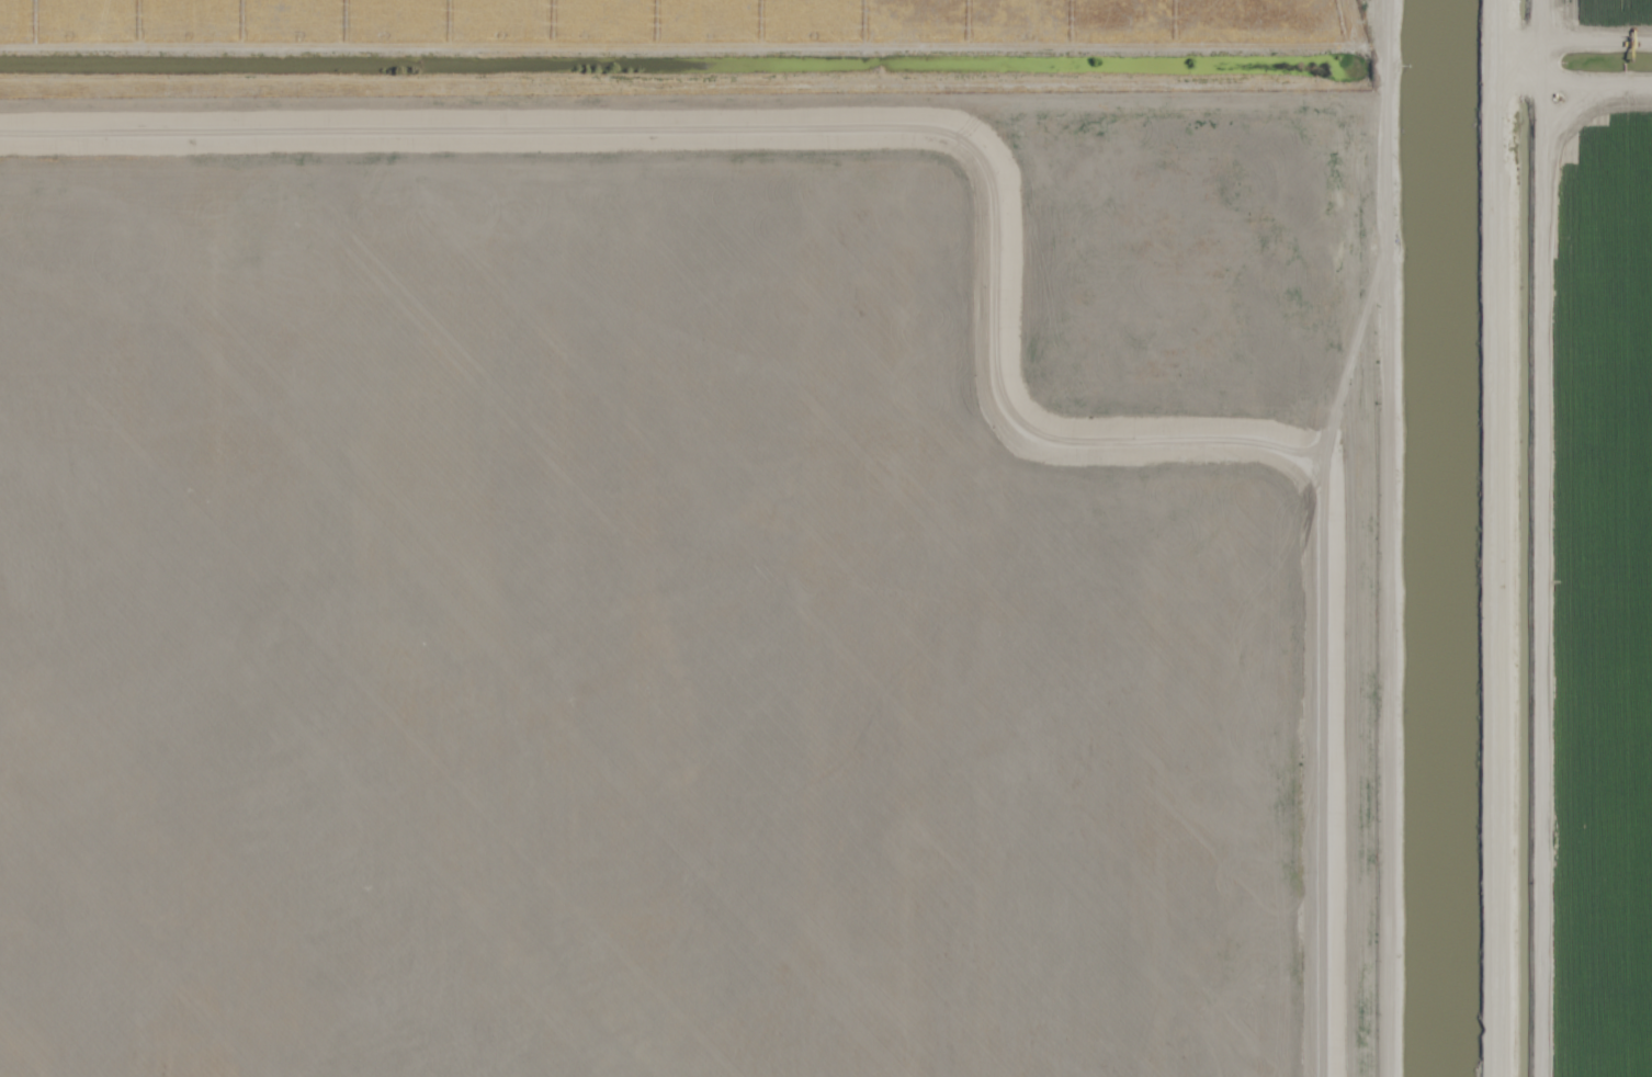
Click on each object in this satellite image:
road: (1562, 83)
road: (1473, 538)

